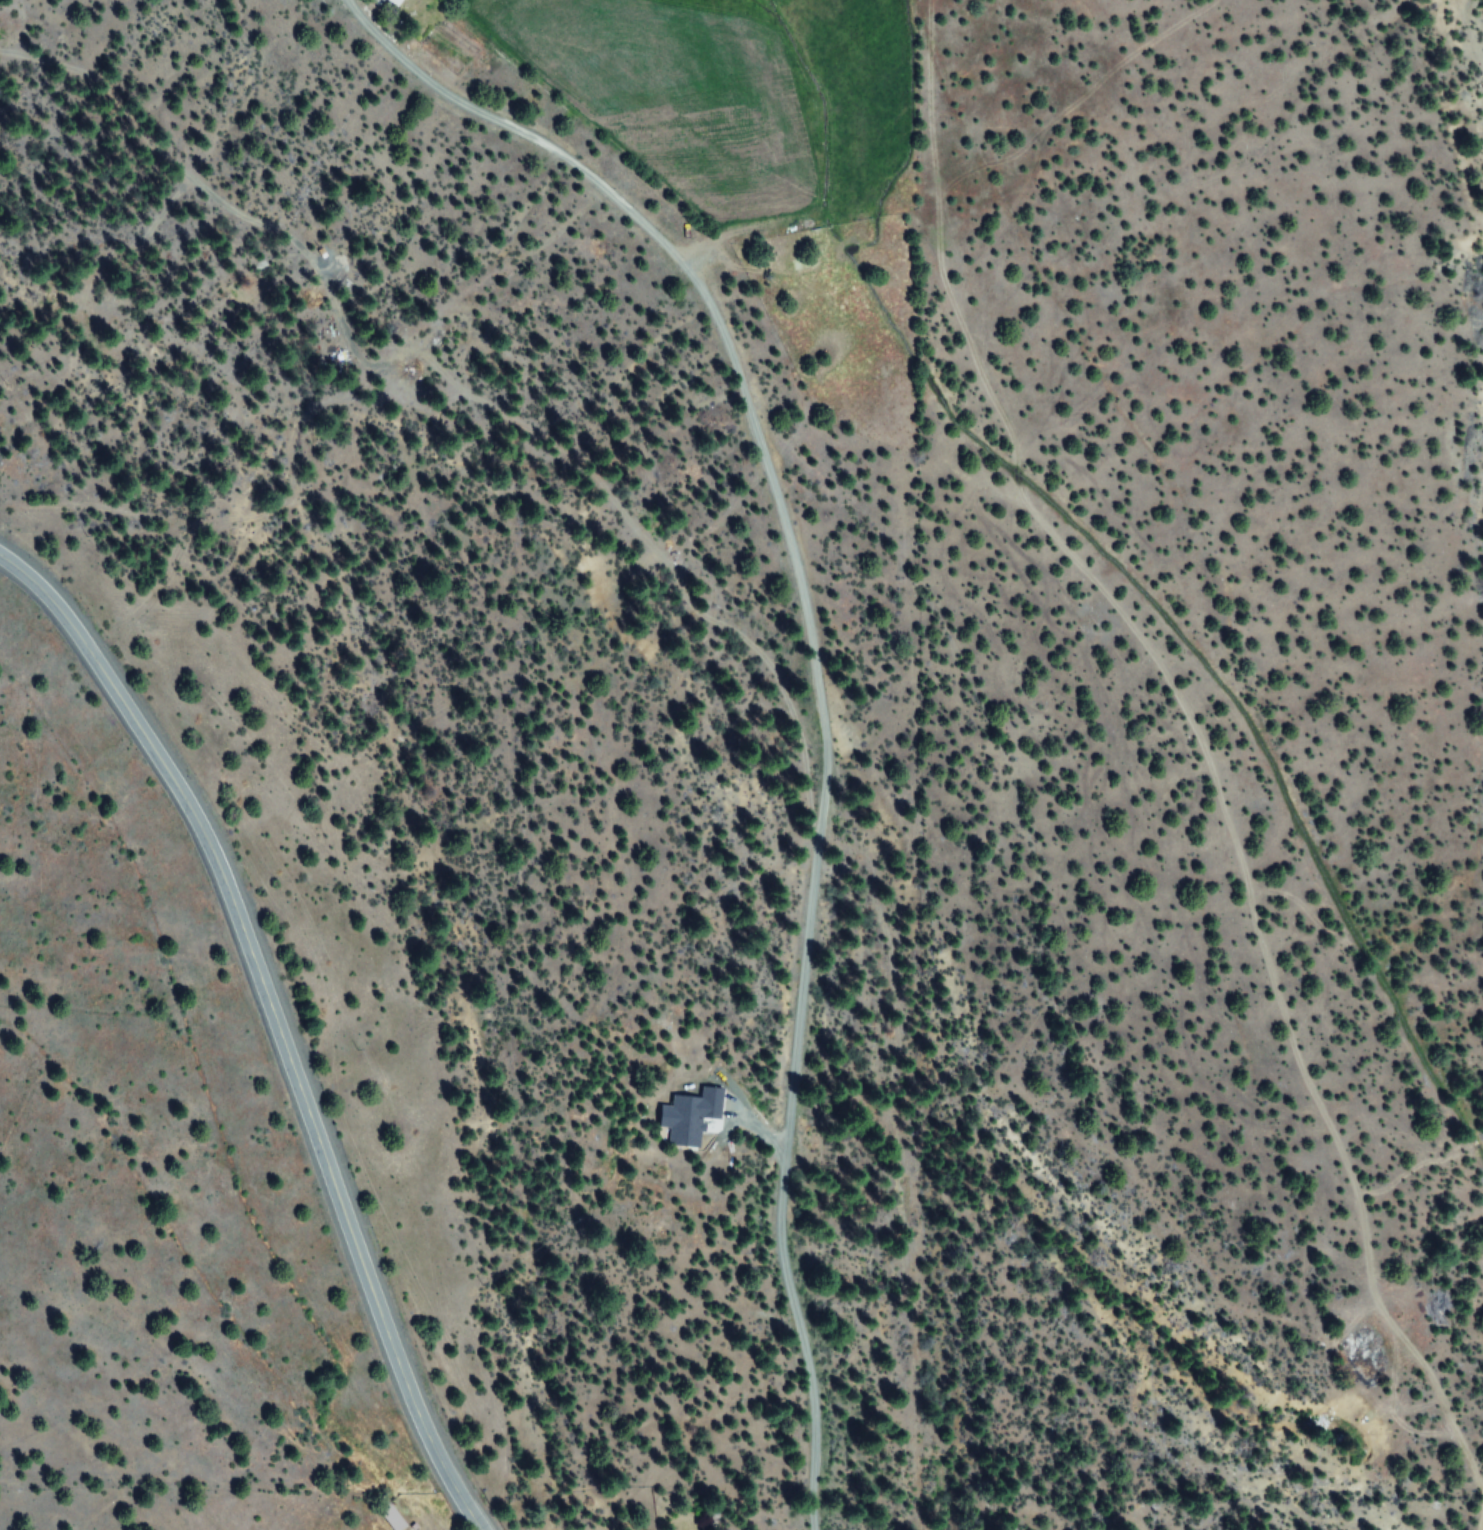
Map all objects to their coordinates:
road: (277, 1021)
building: (687, 1116)

